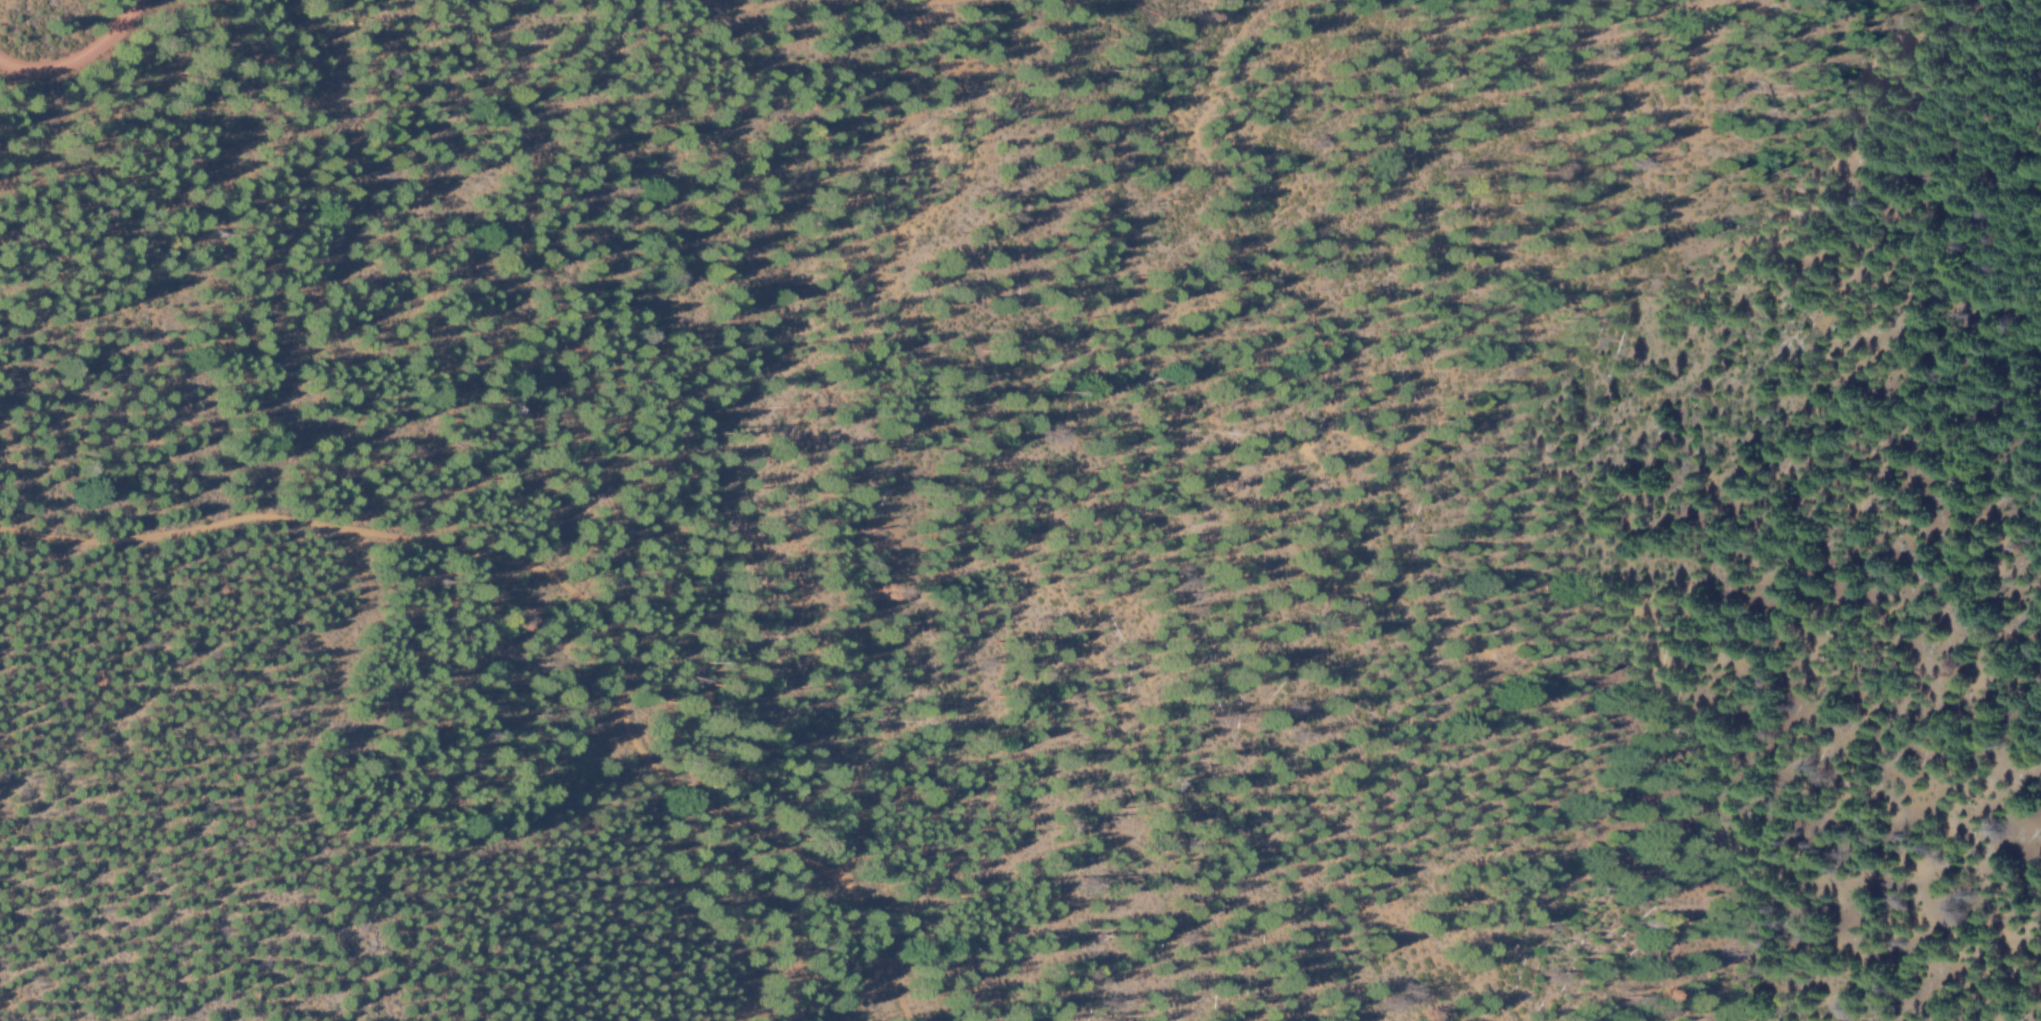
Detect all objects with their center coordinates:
road: (77, 59)
road: (559, 597)

